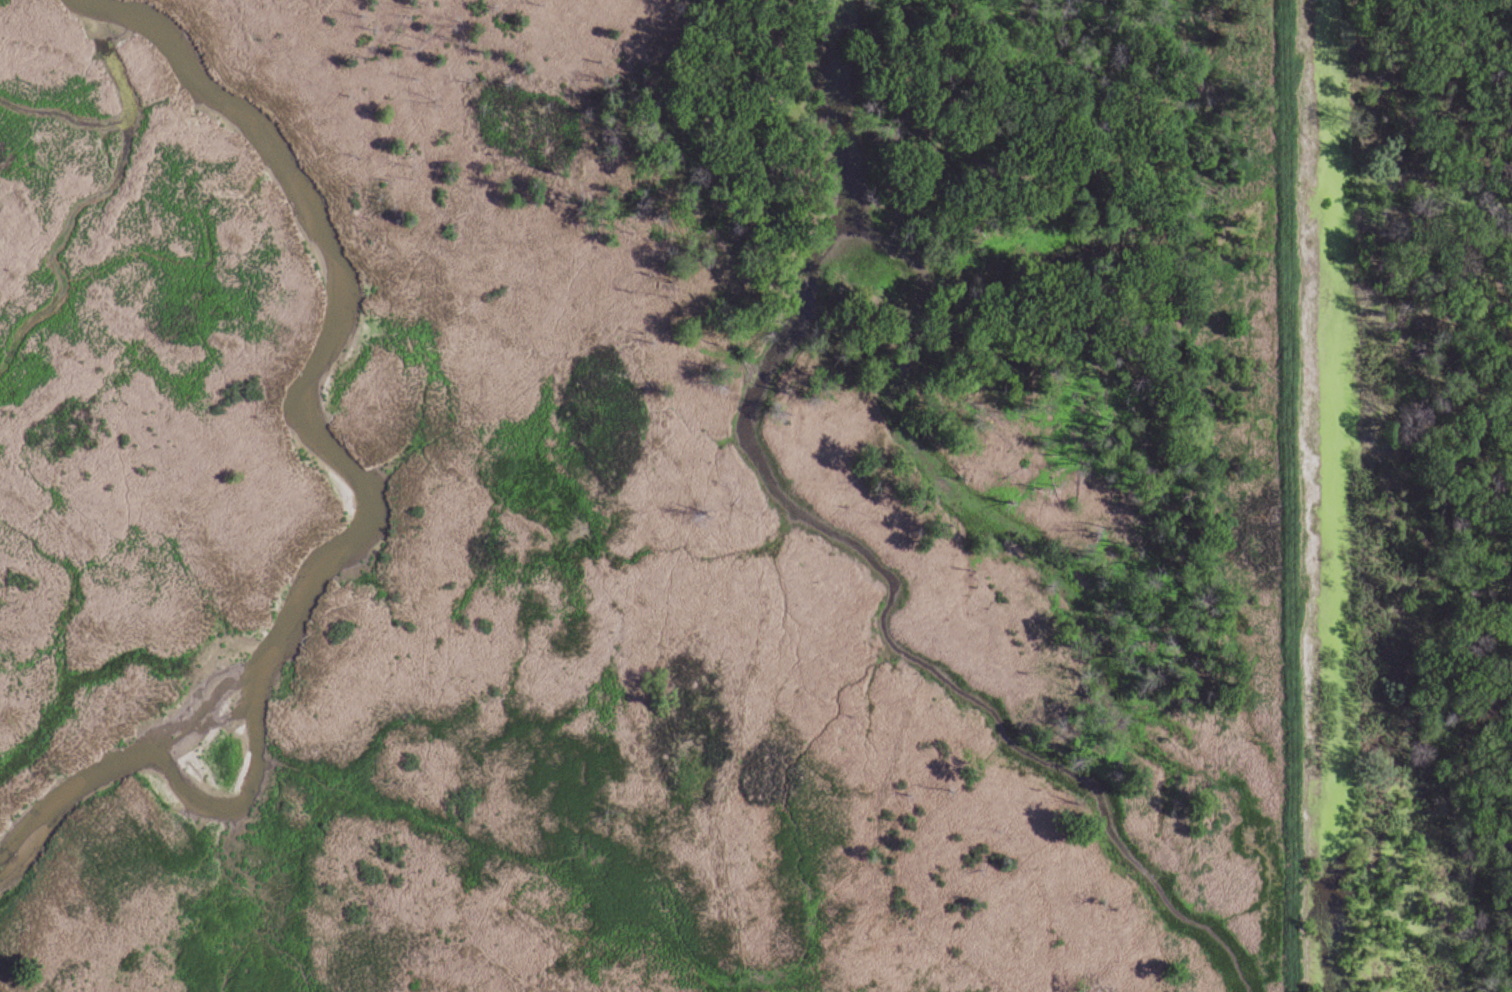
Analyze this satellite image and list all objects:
road: (1283, 496)

